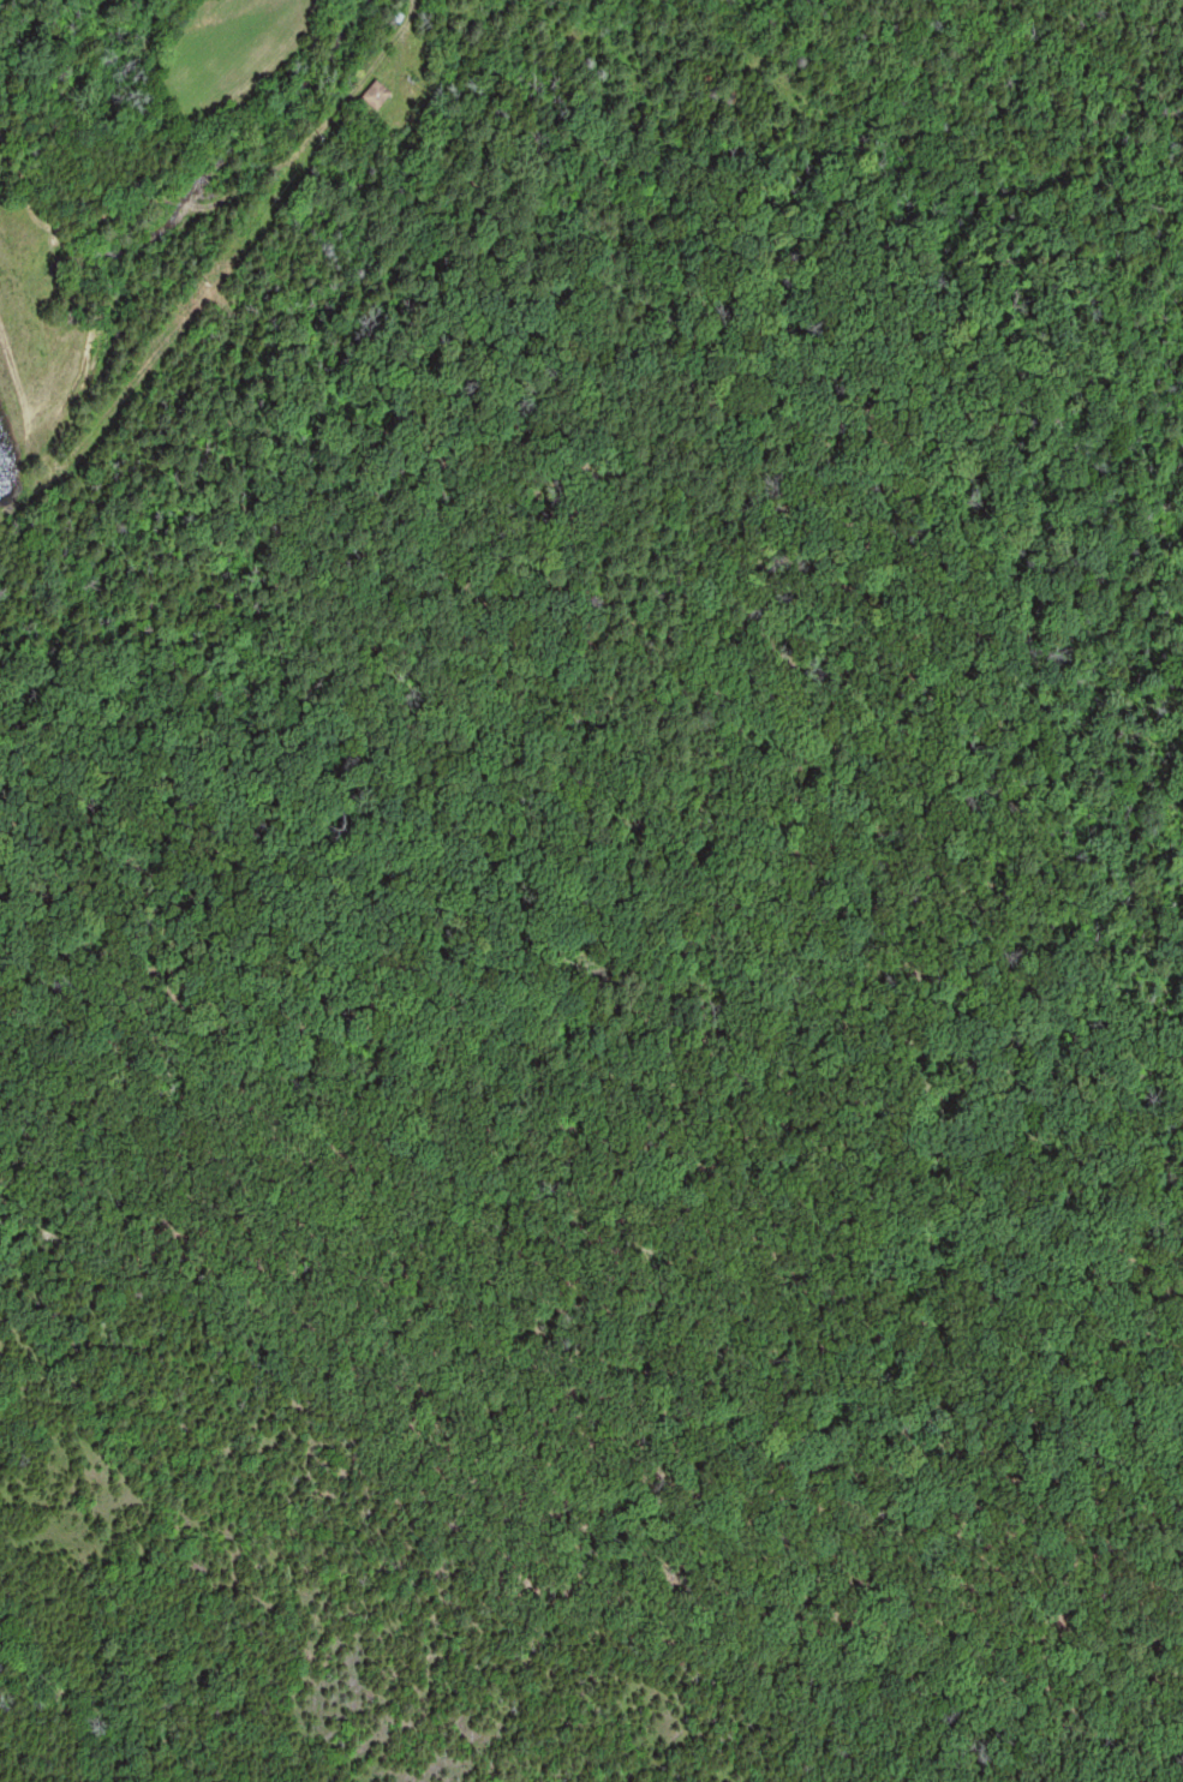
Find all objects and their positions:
building: (372, 95)

